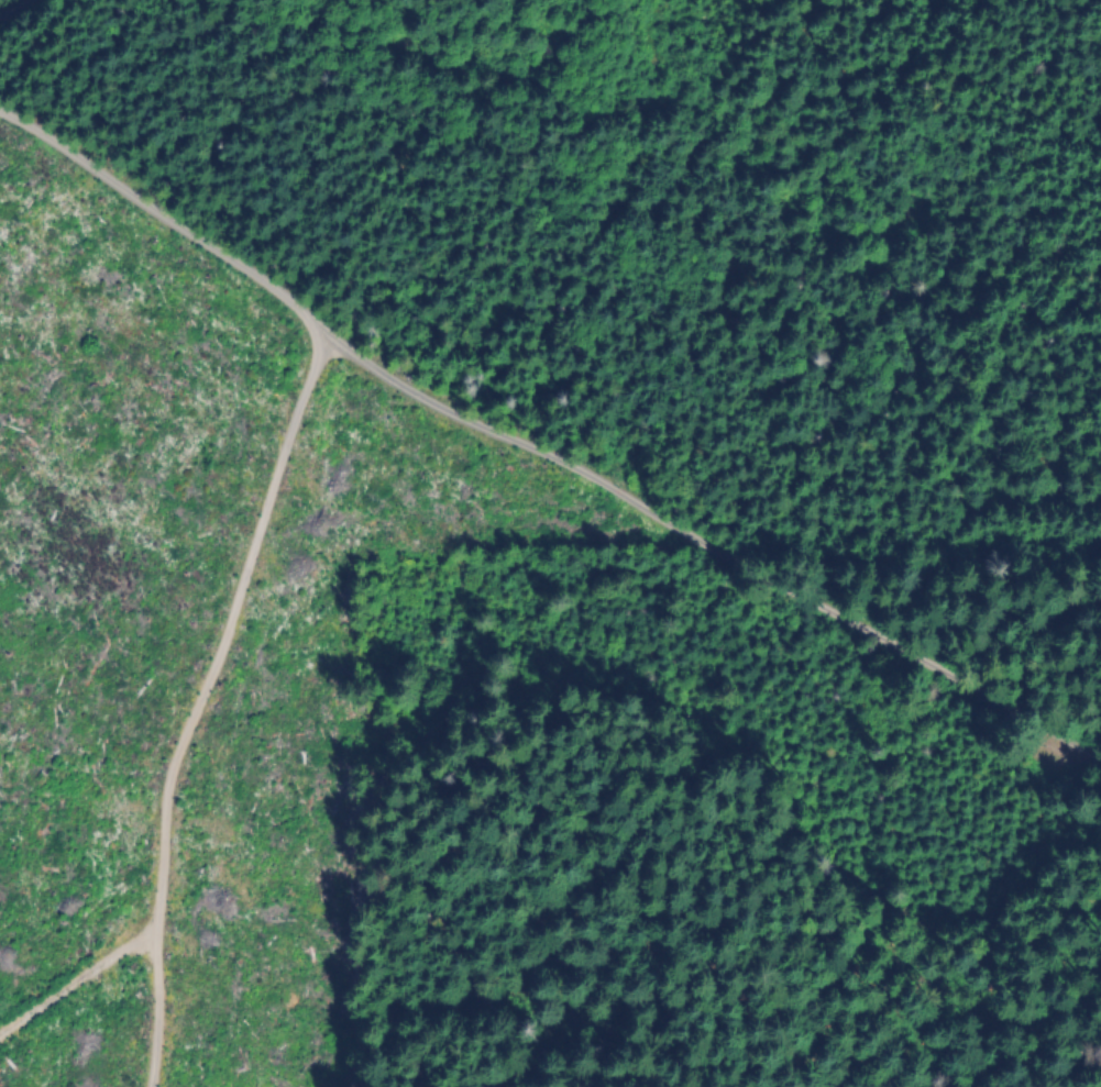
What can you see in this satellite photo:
road: (9, 7)
road: (542, 452)
road: (179, 706)

